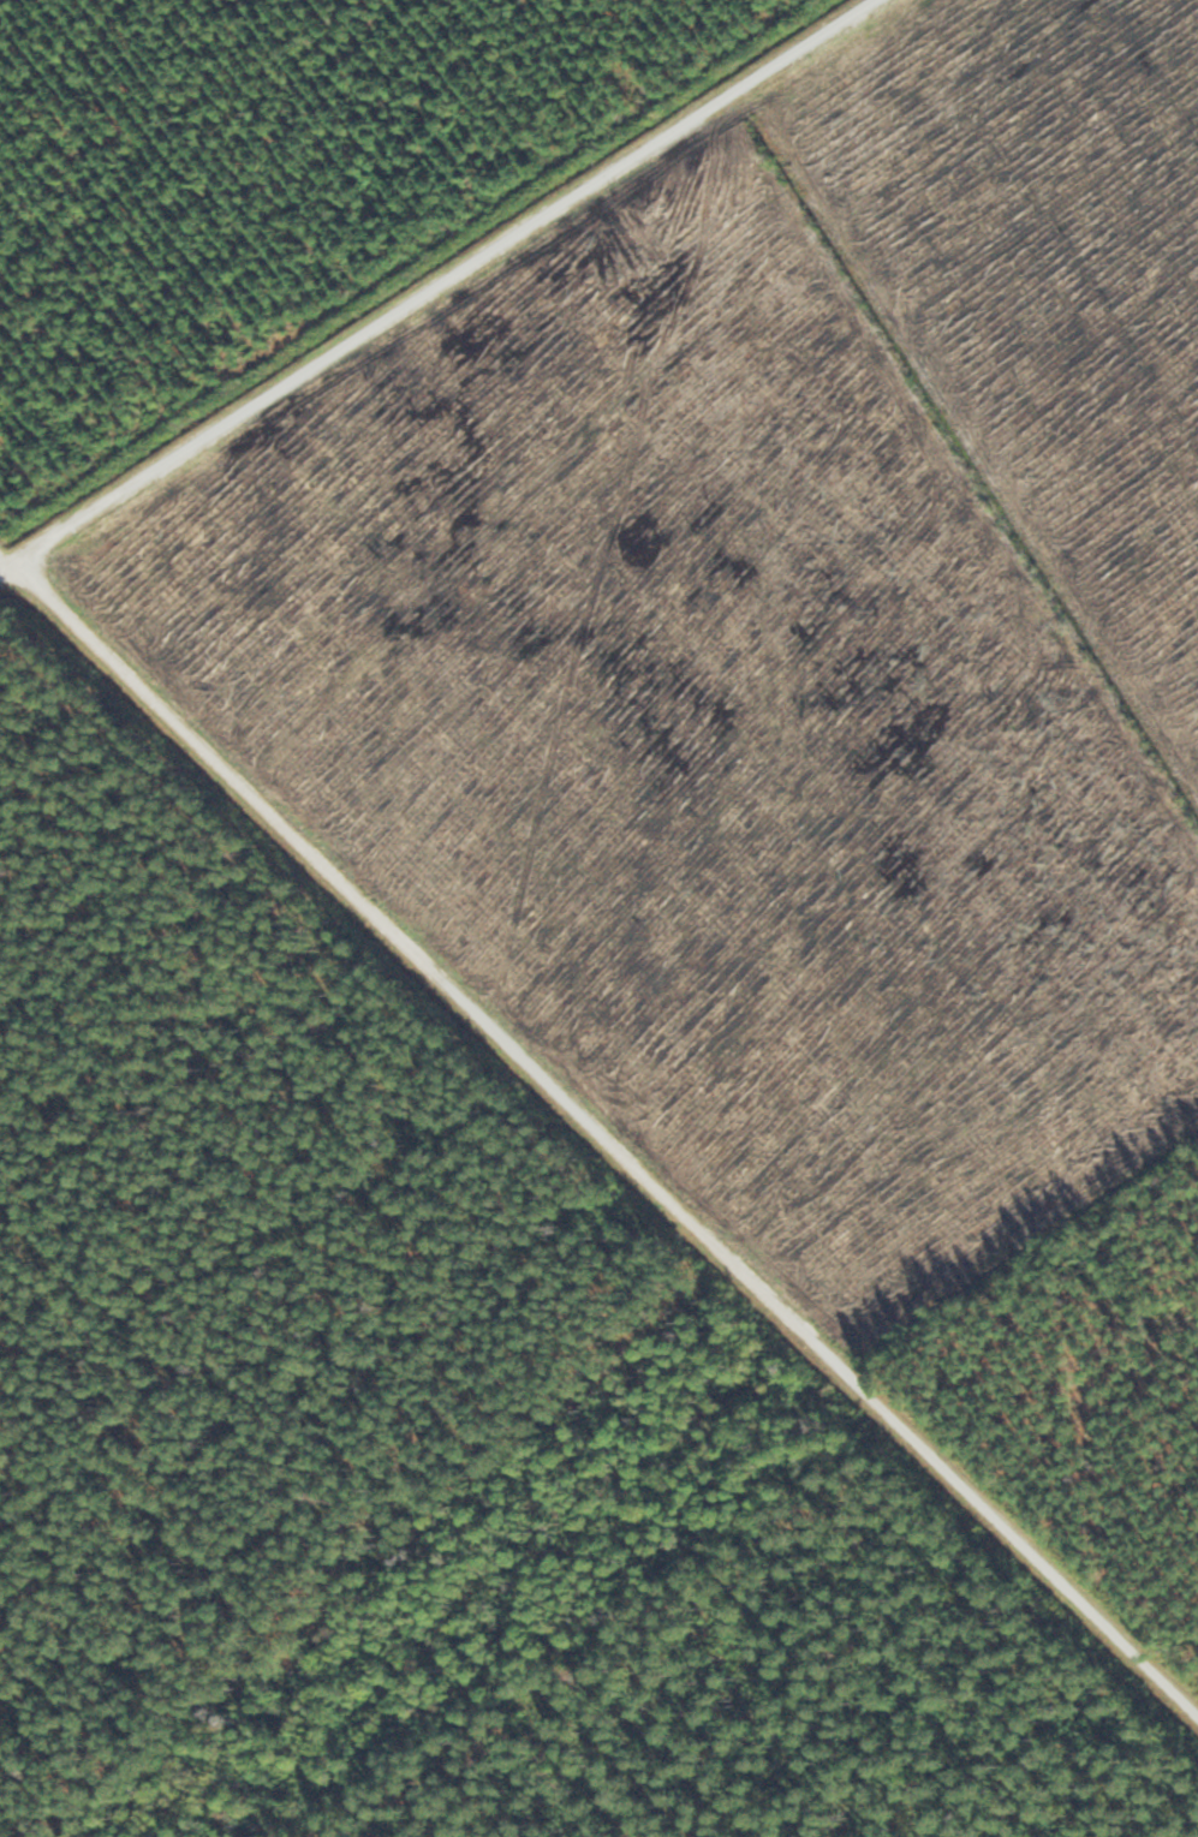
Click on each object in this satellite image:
road: (440, 290)
road: (598, 1135)

